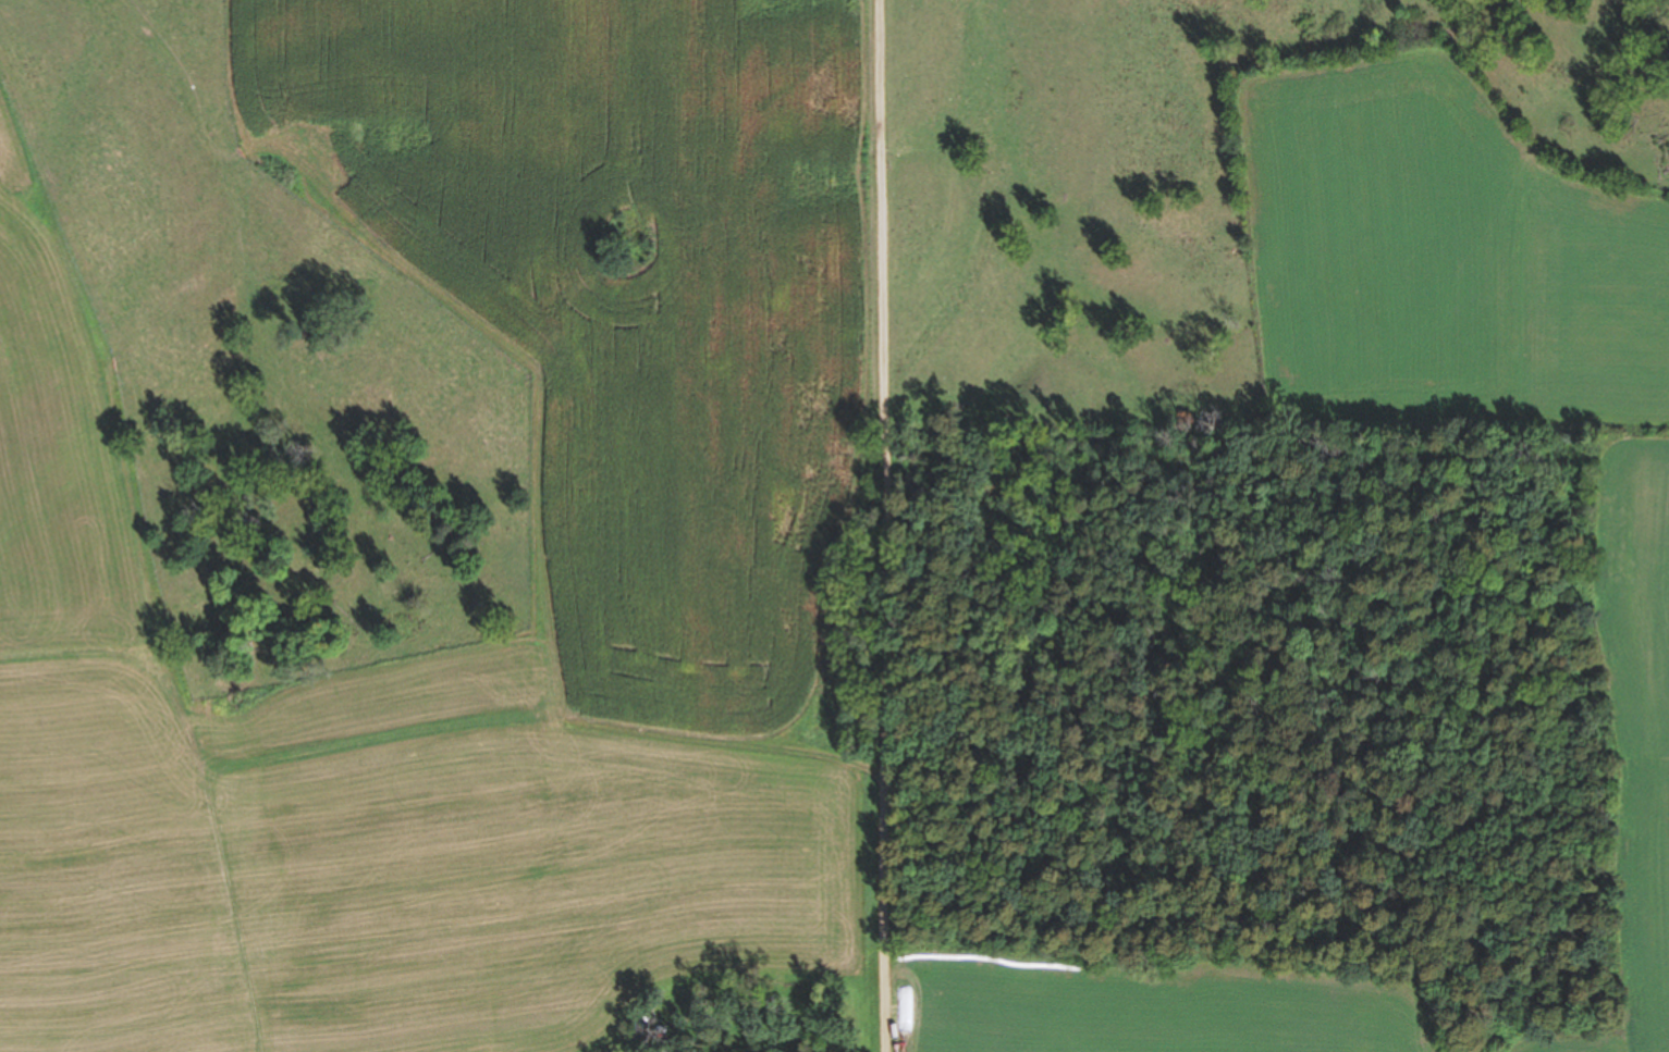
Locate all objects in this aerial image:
road: (884, 395)
road: (885, 921)

